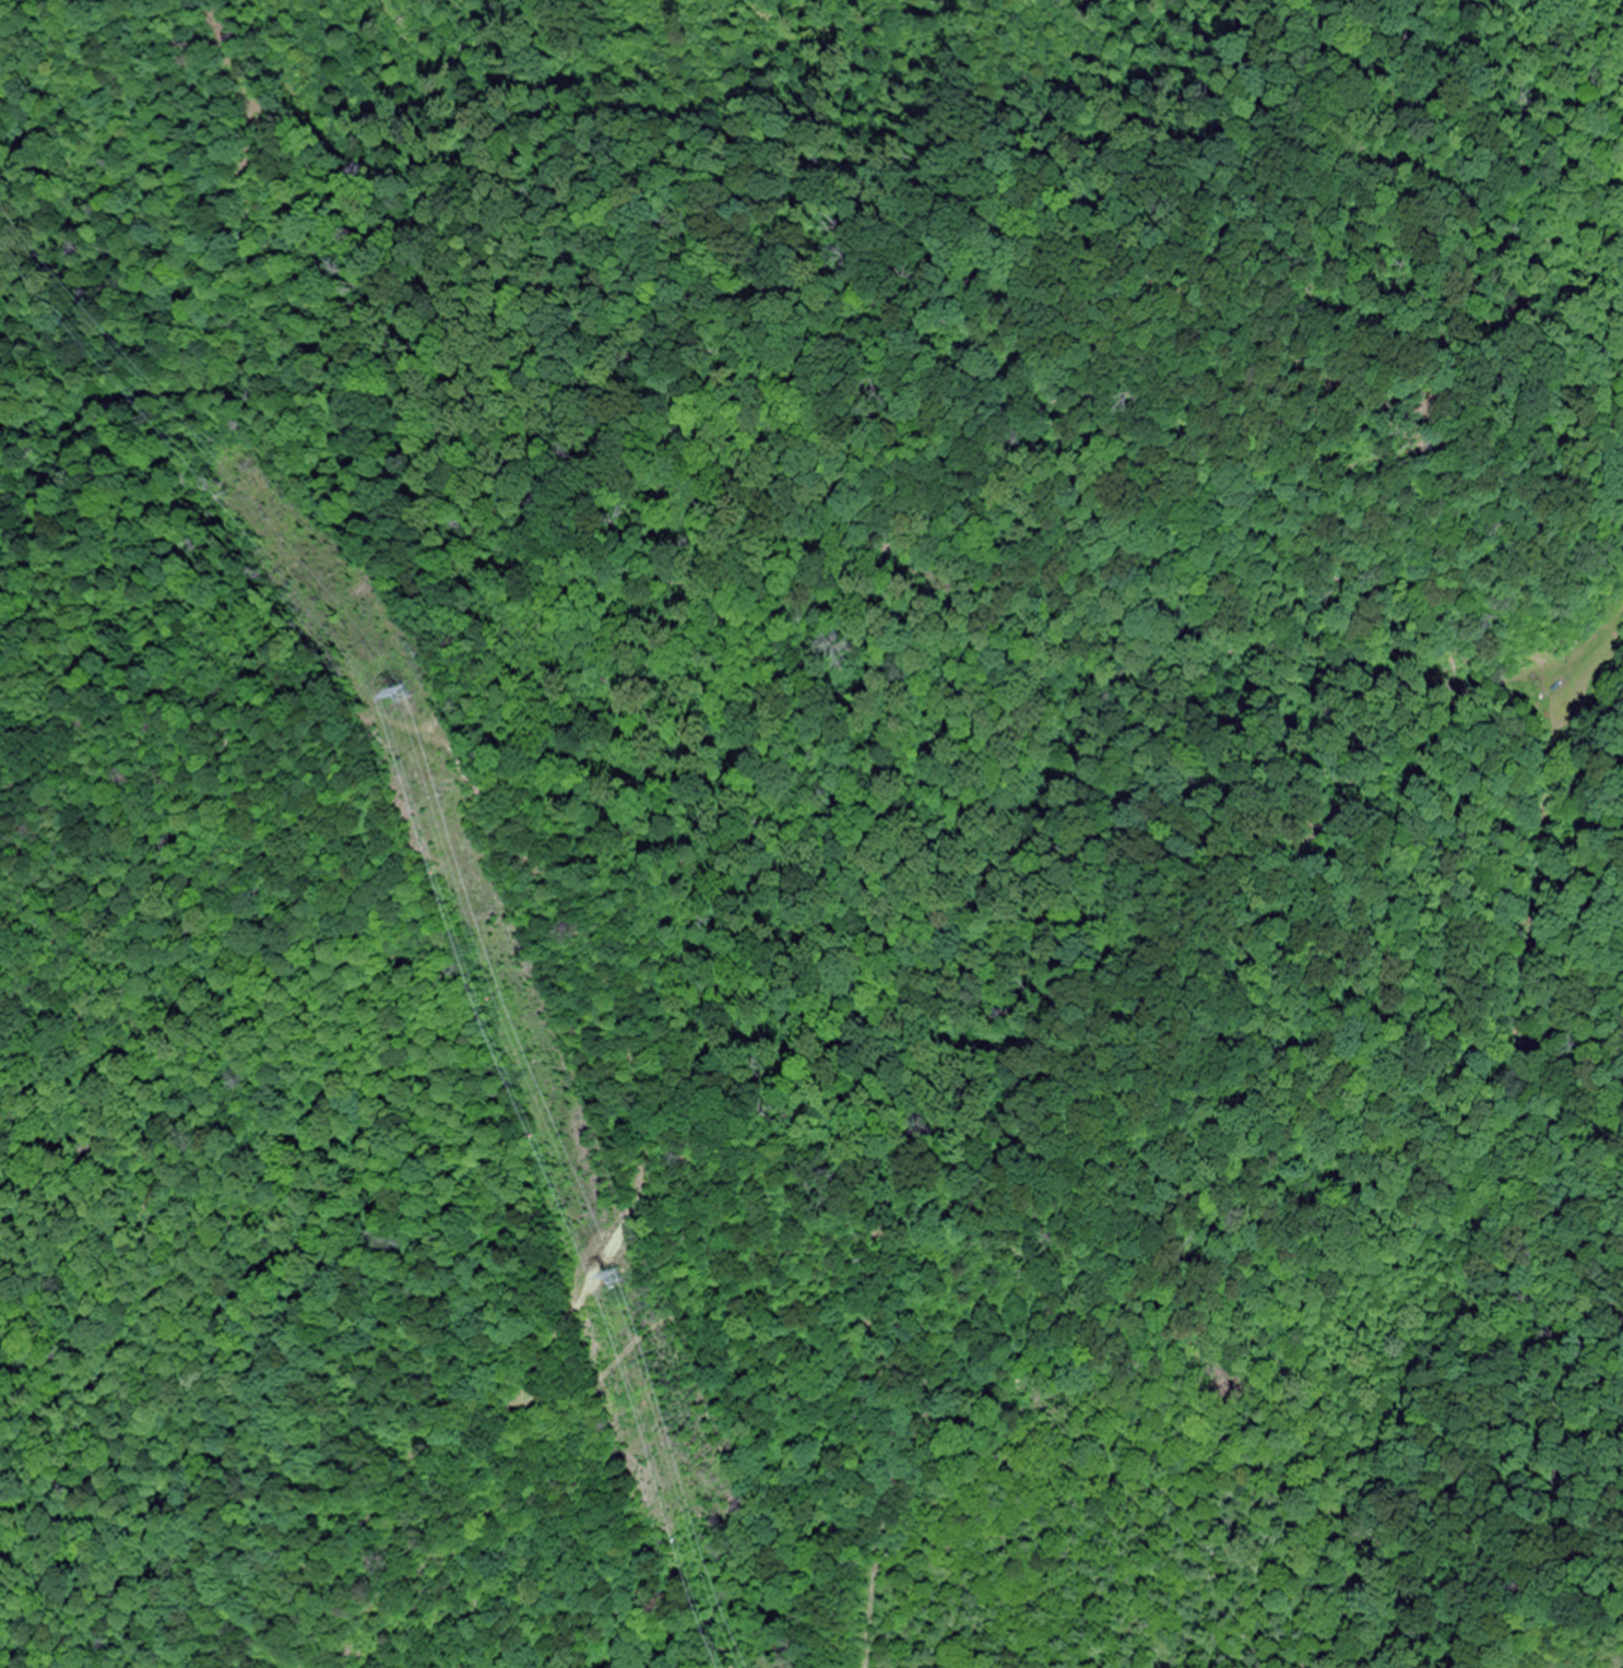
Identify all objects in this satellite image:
power tower: (417, 695)
power tower: (631, 1280)

